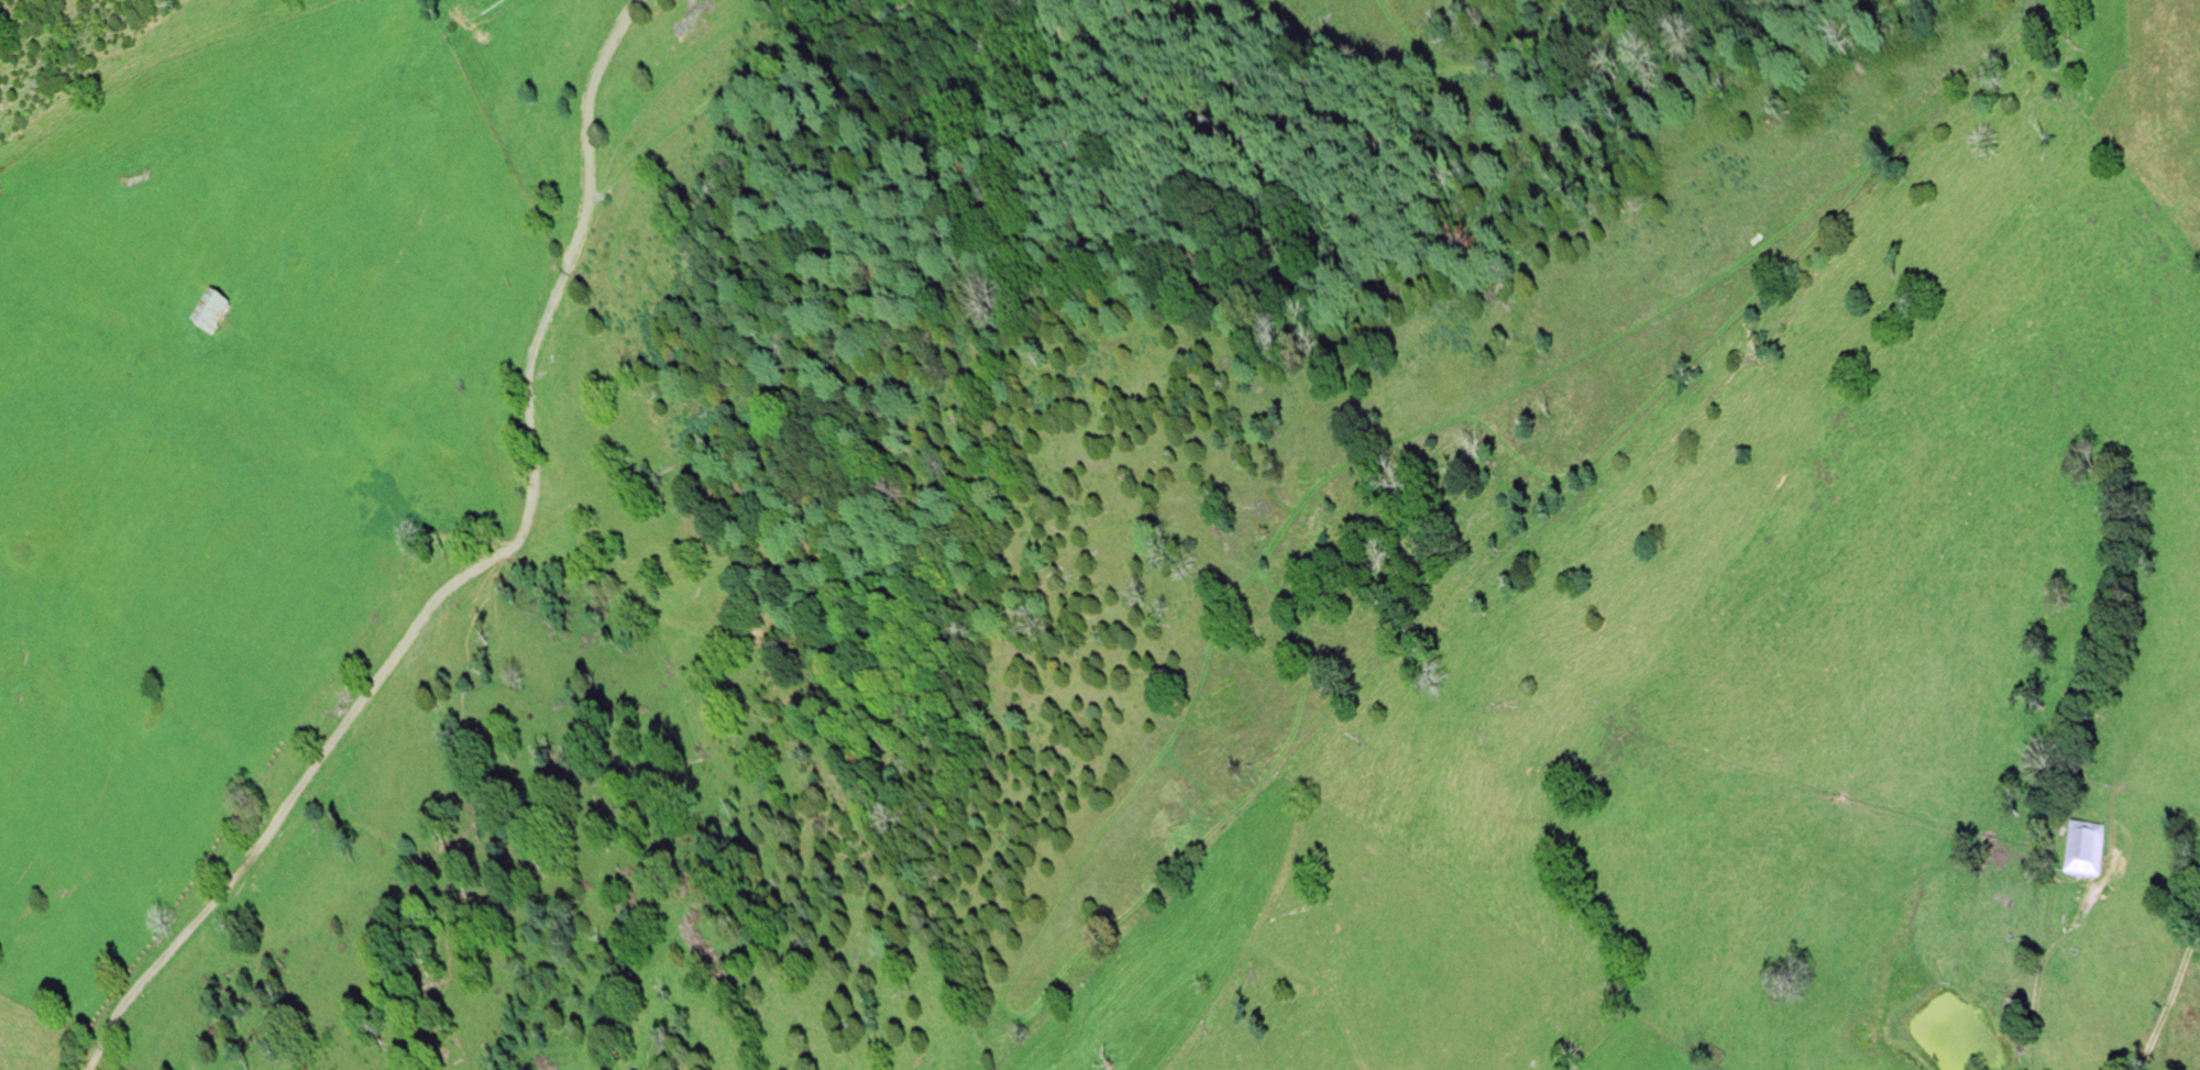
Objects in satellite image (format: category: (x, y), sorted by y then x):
building: (211, 316)
road: (466, 572)
building: (2084, 848)
road: (2110, 865)
road: (2169, 1000)
road: (1347, 1023)

